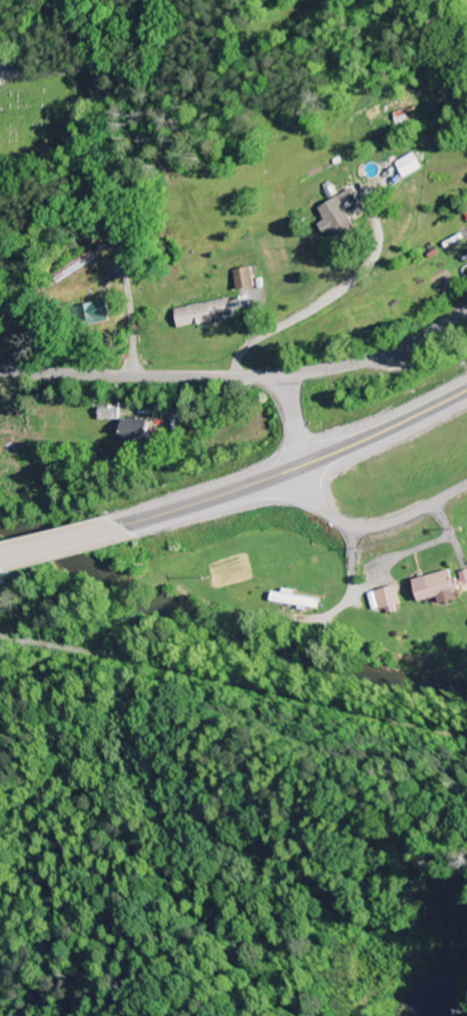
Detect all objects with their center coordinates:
road: (105, 195)
building: (335, 216)
building: (242, 276)
building: (203, 310)
road: (240, 381)
road: (296, 422)
building: (134, 428)
road: (294, 467)
road: (372, 524)
road: (57, 542)
building: (440, 583)
building: (382, 596)
building: (293, 597)
river: (224, 620)

